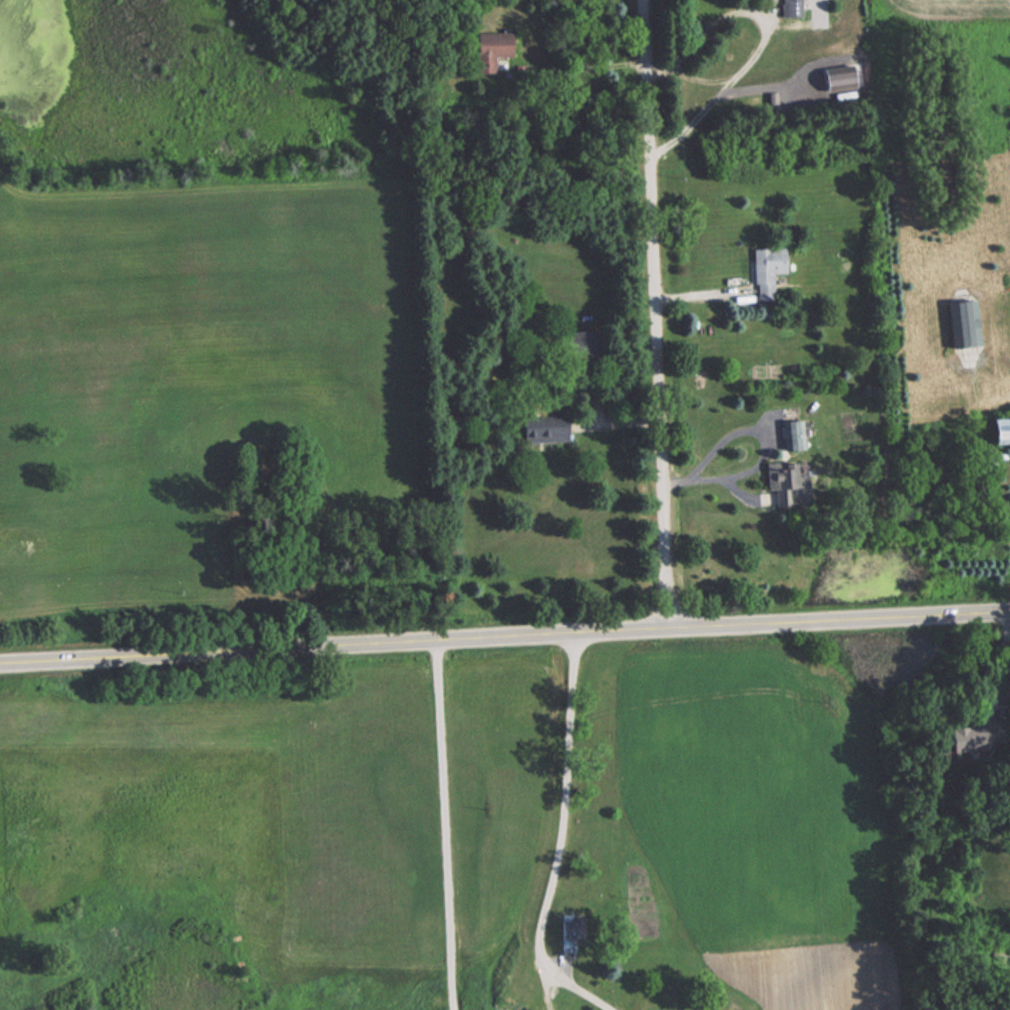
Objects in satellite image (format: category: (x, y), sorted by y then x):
building: (785, 8)
road: (762, 40)
building: (489, 50)
road: (583, 69)
road: (701, 77)
building: (765, 269)
road: (652, 313)
building: (960, 321)
road: (754, 425)
building: (543, 428)
building: (999, 429)
road: (983, 433)
building: (790, 434)
building: (783, 480)
road: (505, 637)
road: (1005, 665)
road: (444, 825)
road: (560, 839)
building: (566, 927)
road: (545, 988)

